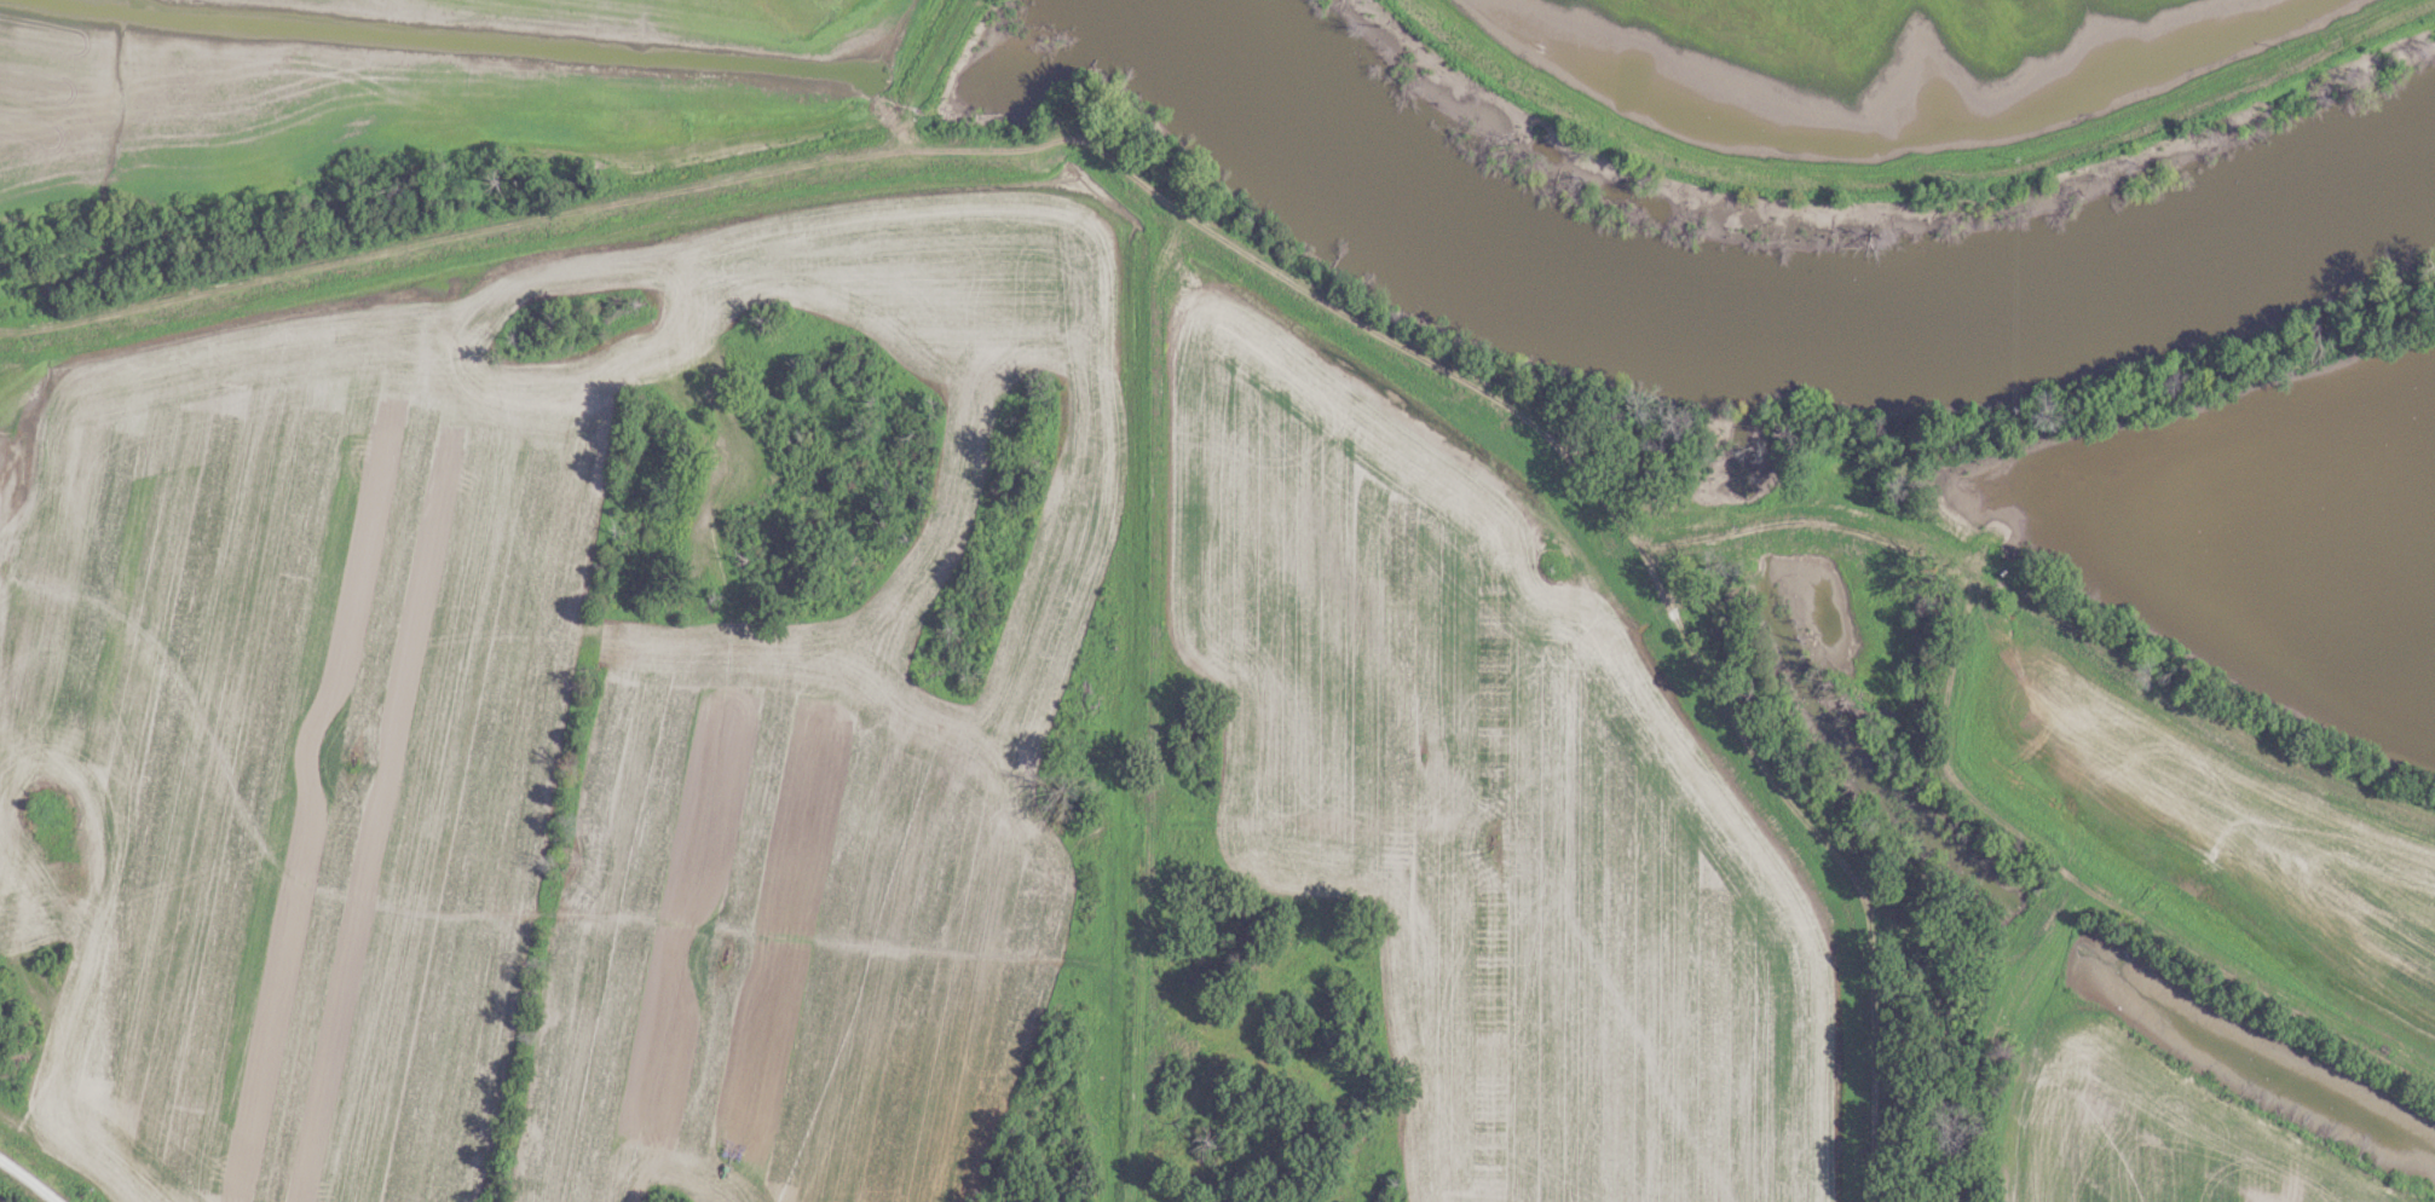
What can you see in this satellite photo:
road: (2192, 854)
road: (37, 1177)

